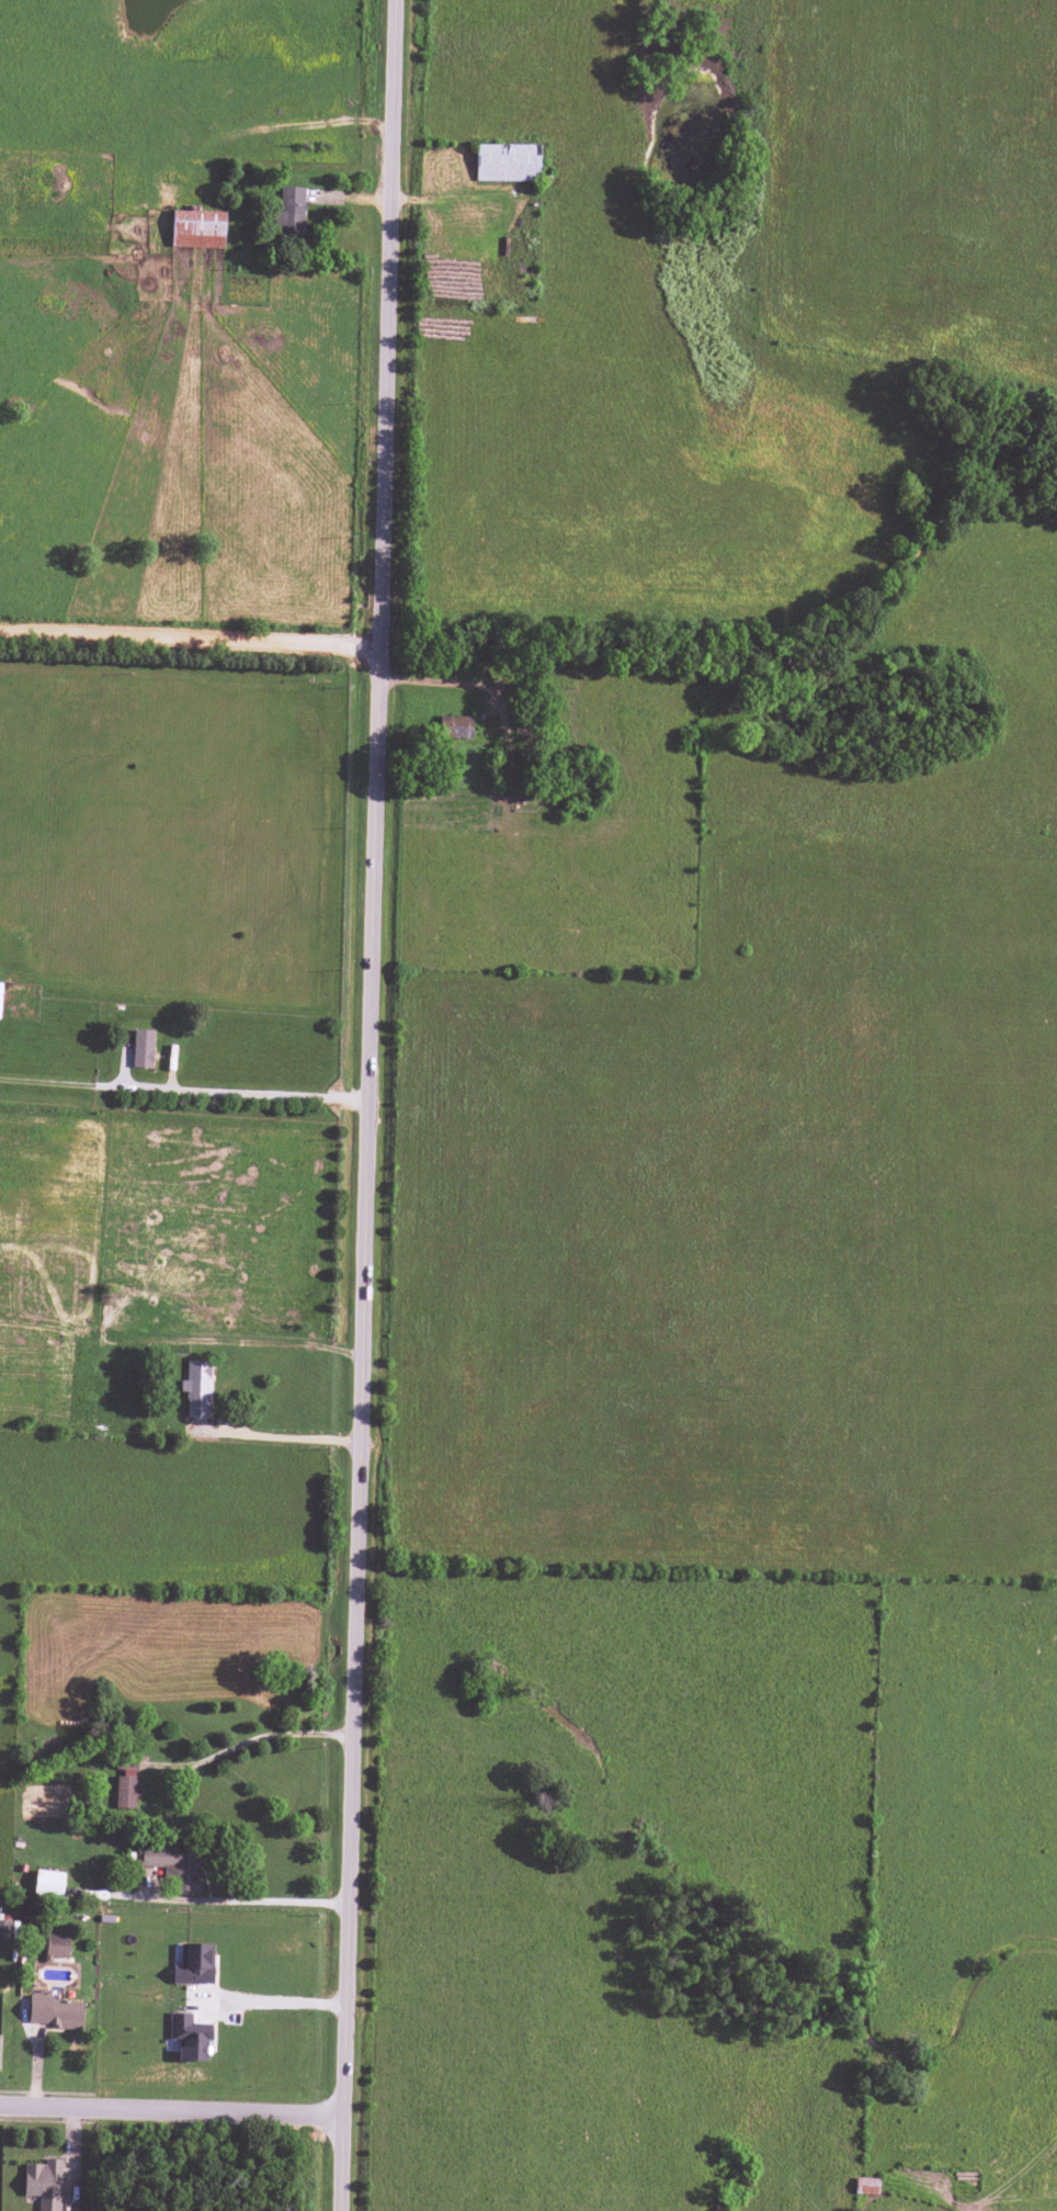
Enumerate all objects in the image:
building: (507, 162)
building: (289, 212)
building: (197, 229)
road: (193, 646)
building: (455, 727)
building: (0, 990)
building: (141, 1049)
road: (374, 1105)
building: (196, 1389)
building: (125, 1792)
building: (173, 1866)
building: (47, 1883)
building: (8, 1931)
building: (56, 1945)
building: (194, 1965)
road: (272, 2001)
building: (53, 2012)
building: (189, 2038)
road: (174, 2111)
building: (43, 2184)

